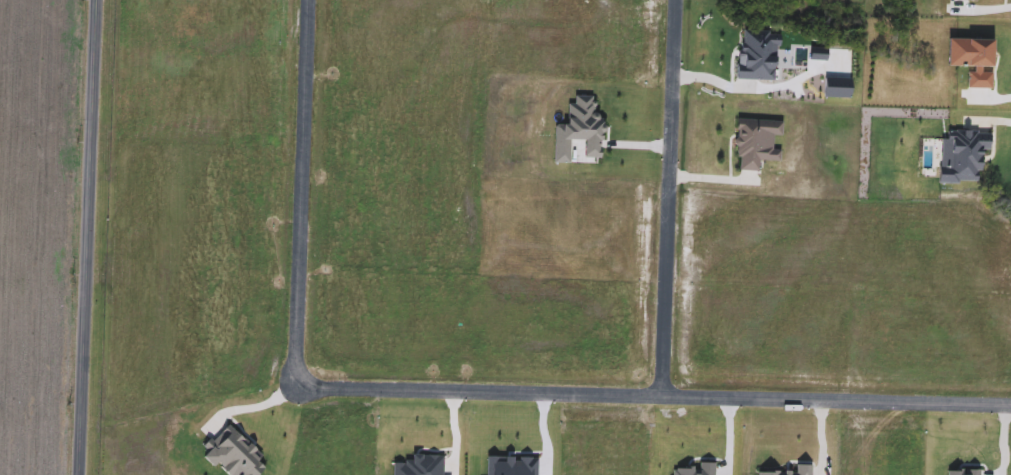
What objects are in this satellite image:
building: (752, 143)
road: (303, 193)
road: (668, 199)
road: (86, 237)
road: (657, 397)
road: (255, 405)

